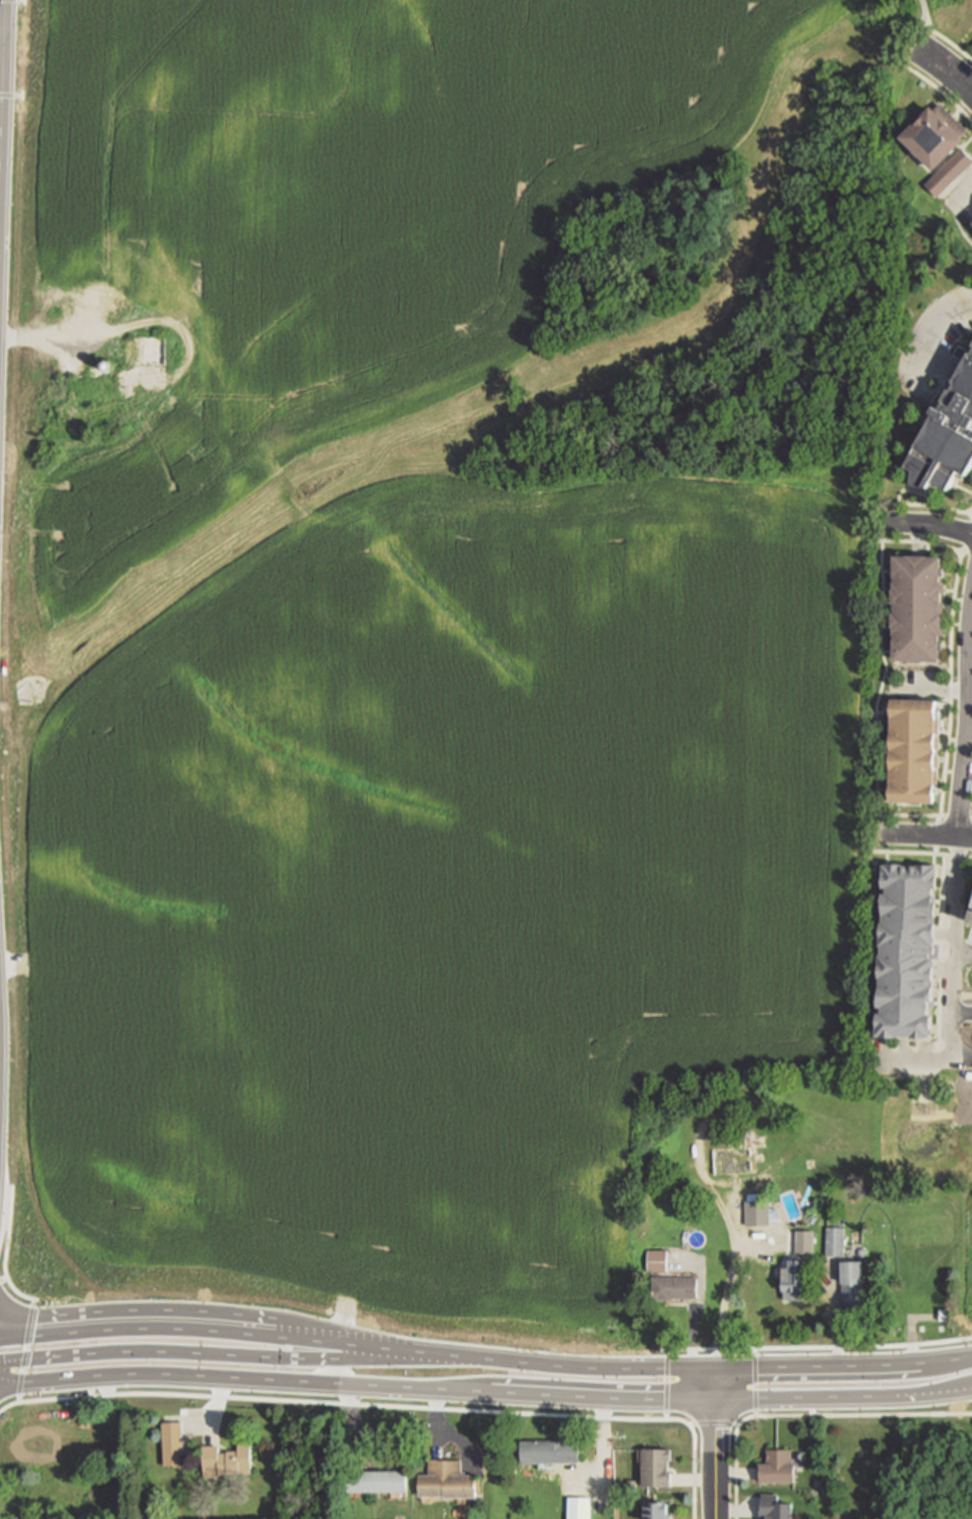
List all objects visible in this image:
road: (926, 12)
road: (525, 20)
park: (922, 23)
road: (61, 38)
road: (948, 40)
road: (562, 41)
road: (61, 49)
road: (941, 90)
building: (314, 113)
building: (117, 115)
building: (935, 135)
building: (949, 172)
building: (453, 186)
building: (72, 254)
building: (292, 254)
building: (213, 256)
building: (461, 334)
road: (933, 334)
building: (320, 388)
building: (86, 390)
building: (946, 431)
road: (927, 505)
road: (971, 512)
road: (928, 525)
road: (967, 543)
building: (916, 606)
road: (951, 648)
road: (968, 733)
building: (912, 749)
road: (911, 815)
road: (926, 835)
road: (922, 853)
crop: (456, 881)
building: (968, 911)
road: (956, 948)
building: (902, 950)
road: (964, 953)
road: (933, 1060)
building: (735, 1158)
building: (757, 1209)
building: (834, 1240)
road: (5, 1251)
building: (656, 1258)
building: (793, 1279)
road: (3, 1280)
building: (852, 1282)
building: (673, 1285)
road: (726, 1287)
building: (943, 1313)
road: (694, 1316)
road: (835, 1316)
road: (964, 1327)
road: (24, 1352)
road: (206, 1355)
road: (485, 1359)
road: (275, 1381)
road: (6, 1383)
road: (762, 1399)
road: (390, 1407)
road: (807, 1415)
road: (714, 1424)
building: (59, 1433)
building: (172, 1442)
building: (9, 1444)
road: (716, 1444)
building: (550, 1450)
building: (227, 1459)
building: (774, 1466)
building: (654, 1467)
building: (378, 1478)
building: (446, 1479)
building: (579, 1507)
building: (770, 1507)
building: (658, 1511)
building: (118, 1516)

